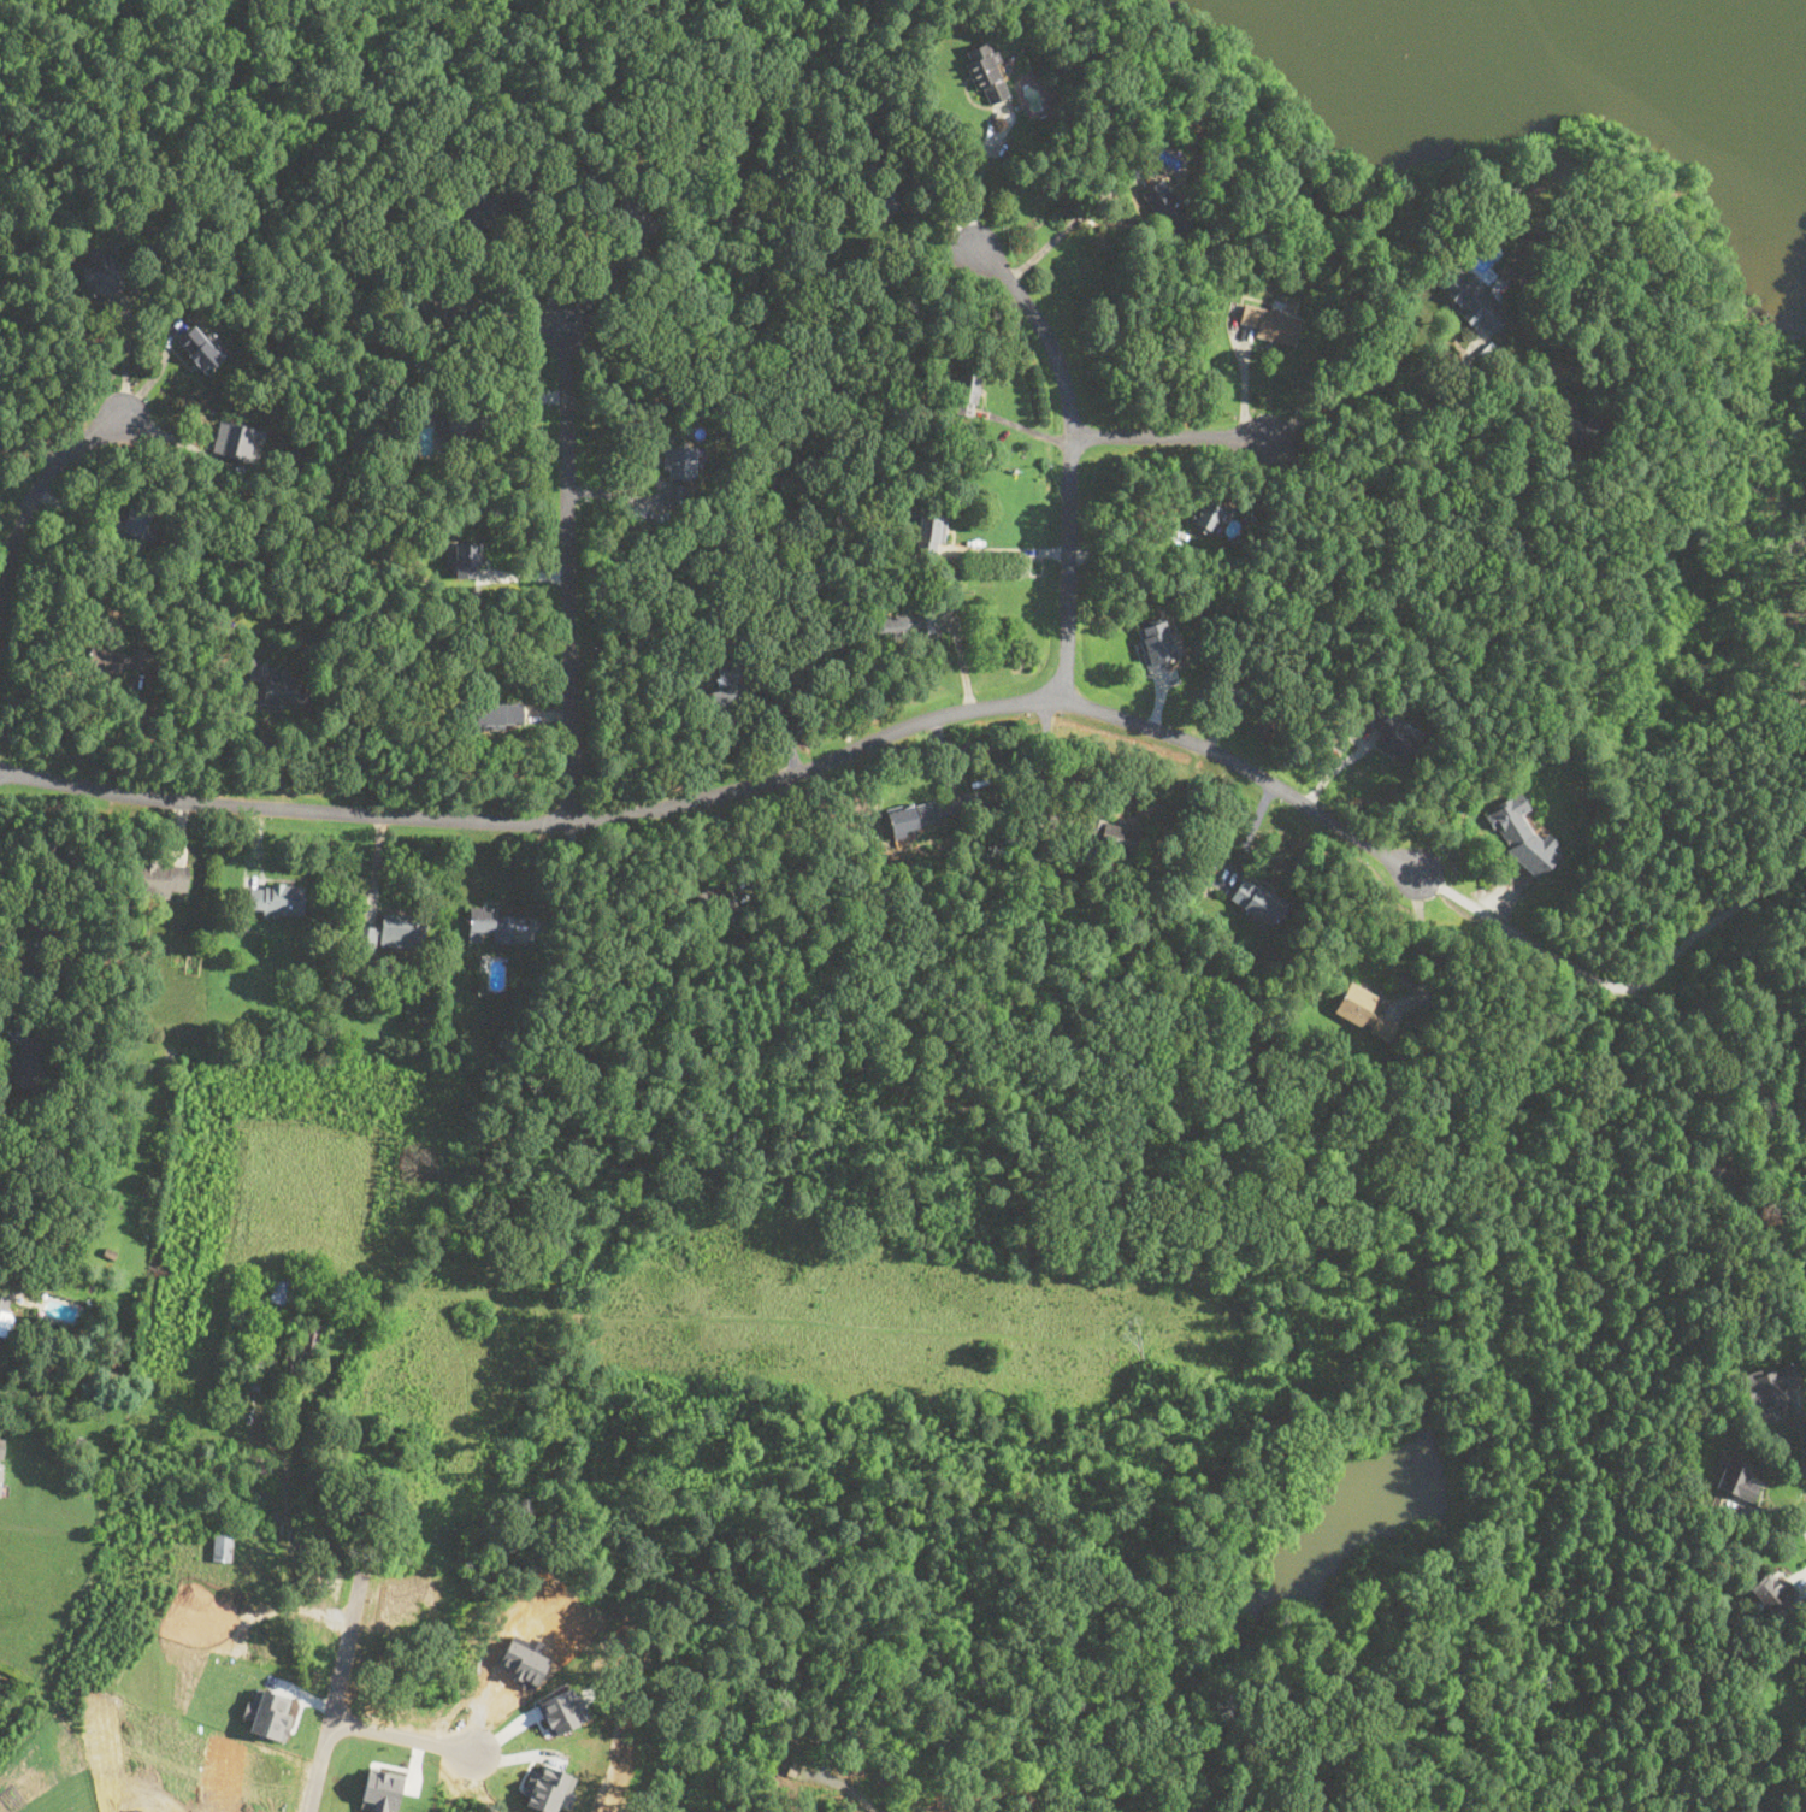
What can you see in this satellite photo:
building: (987, 72)
road: (979, 183)
road: (927, 193)
building: (880, 199)
building: (486, 203)
building: (1167, 206)
building: (635, 217)
road: (1064, 230)
road: (542, 258)
building: (102, 277)
building: (1471, 295)
building: (443, 311)
building: (1271, 320)
building: (200, 348)
road: (128, 356)
road: (1364, 385)
building: (967, 389)
building: (1572, 420)
building: (466, 427)
road: (1169, 436)
building: (237, 439)
road: (1072, 460)
building: (679, 461)
road: (1400, 477)
road: (40, 486)
building: (678, 494)
building: (1208, 515)
building: (134, 521)
building: (931, 532)
road: (1008, 550)
building: (465, 556)
road: (565, 567)
building: (905, 625)
building: (1156, 643)
building: (106, 657)
building: (272, 681)
building: (727, 698)
building: (498, 714)
building: (1395, 731)
road: (734, 790)
building: (914, 816)
building: (1109, 833)
building: (1522, 836)
building: (61, 862)
building: (160, 878)
building: (276, 897)
building: (1258, 901)
building: (719, 903)
building: (491, 926)
building: (405, 929)
building: (367, 935)
building: (31, 945)
road: (1426, 946)
road: (1622, 986)
building: (1364, 1010)
building: (24, 1067)
building: (6, 1322)
building: (1771, 1386)
road: (144, 1406)
road: (1801, 1428)
building: (0, 1468)
building: (1737, 1477)
building: (223, 1546)
building: (1772, 1590)
building: (1805, 1653)
road: (335, 1696)
road: (401, 1734)

